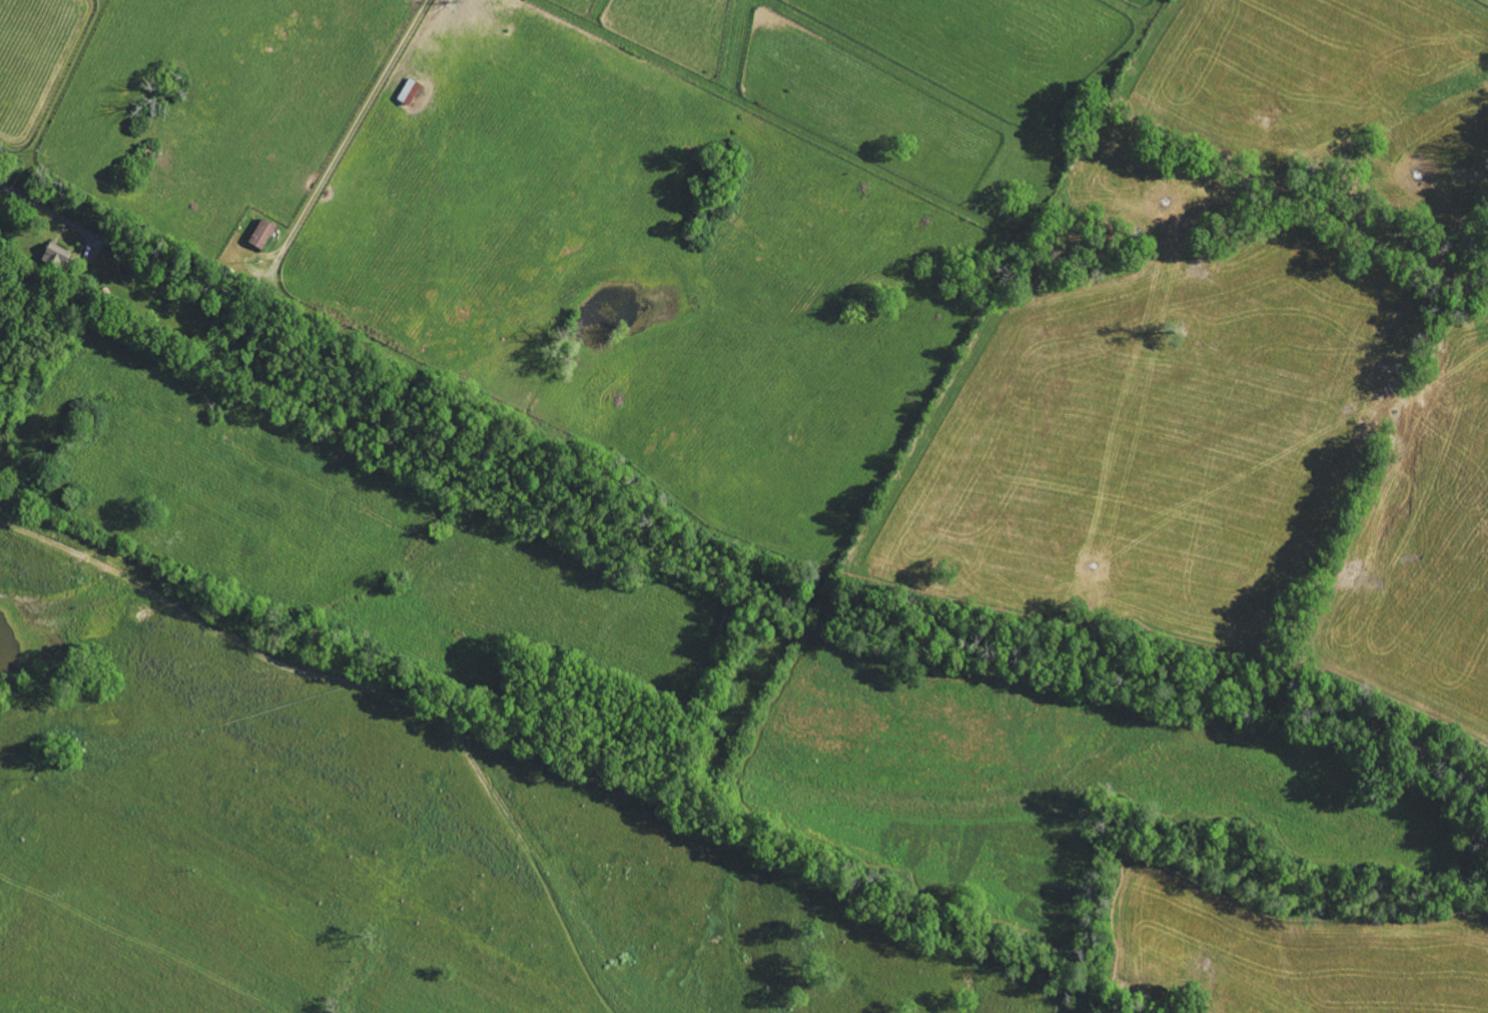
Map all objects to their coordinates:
building: (412, 93)
road: (358, 126)
building: (266, 235)
building: (60, 257)

